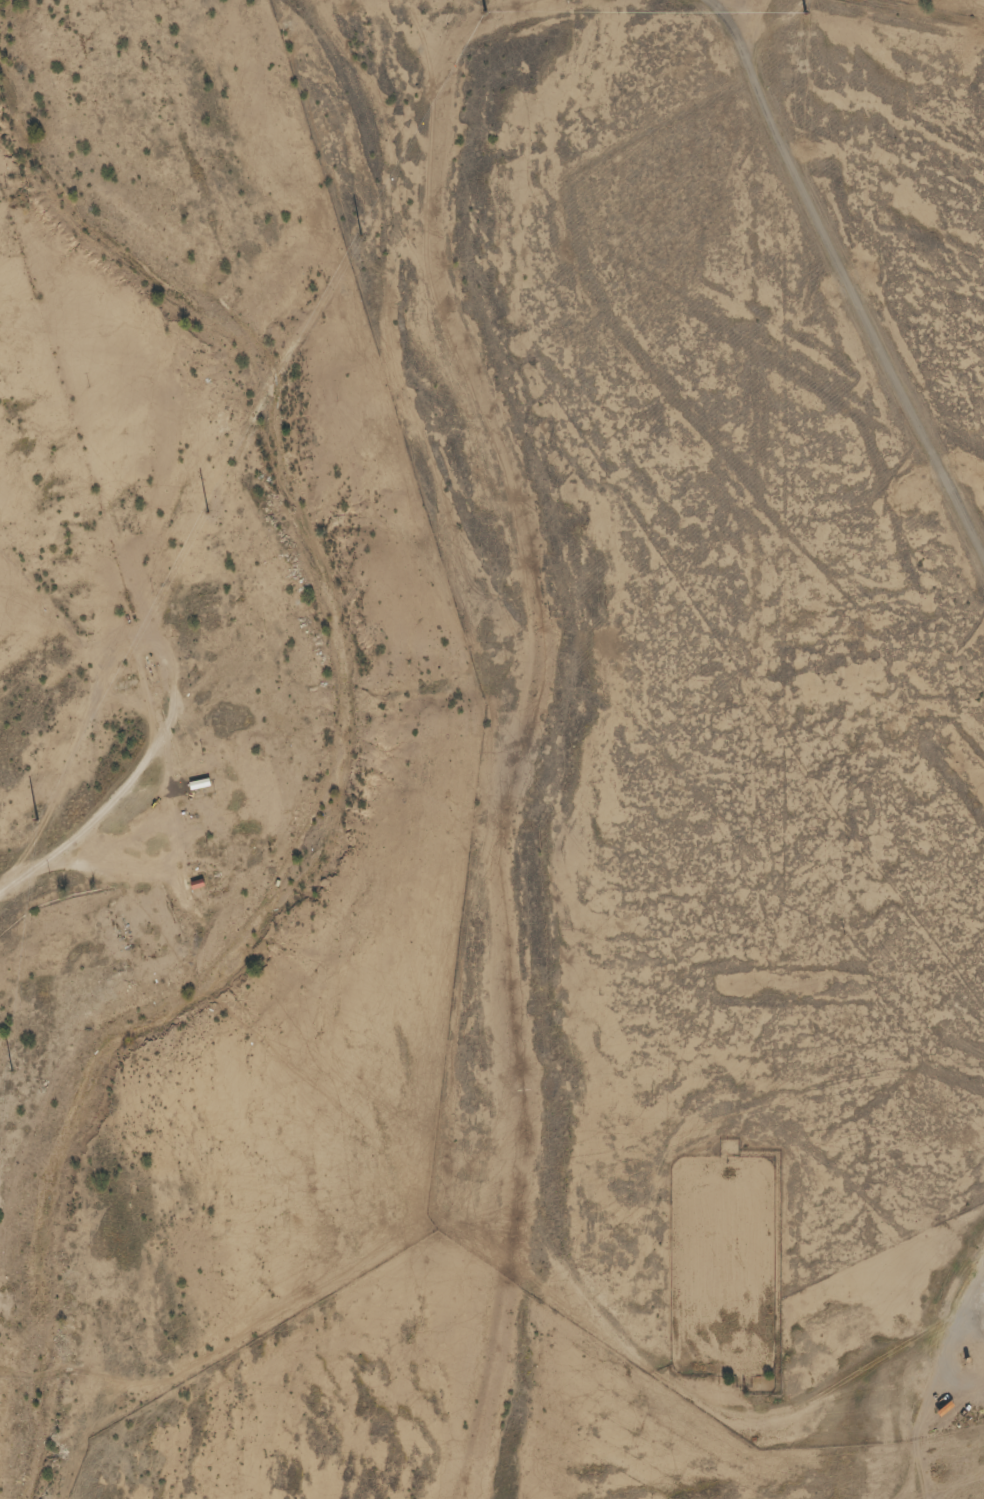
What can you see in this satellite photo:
power tower: (484, 10)
power tower: (804, 13)
power tower: (360, 235)
road: (842, 270)
power tower: (204, 512)
road: (125, 790)
power tower: (35, 820)
building: (193, 884)
power tower: (10, 1071)

